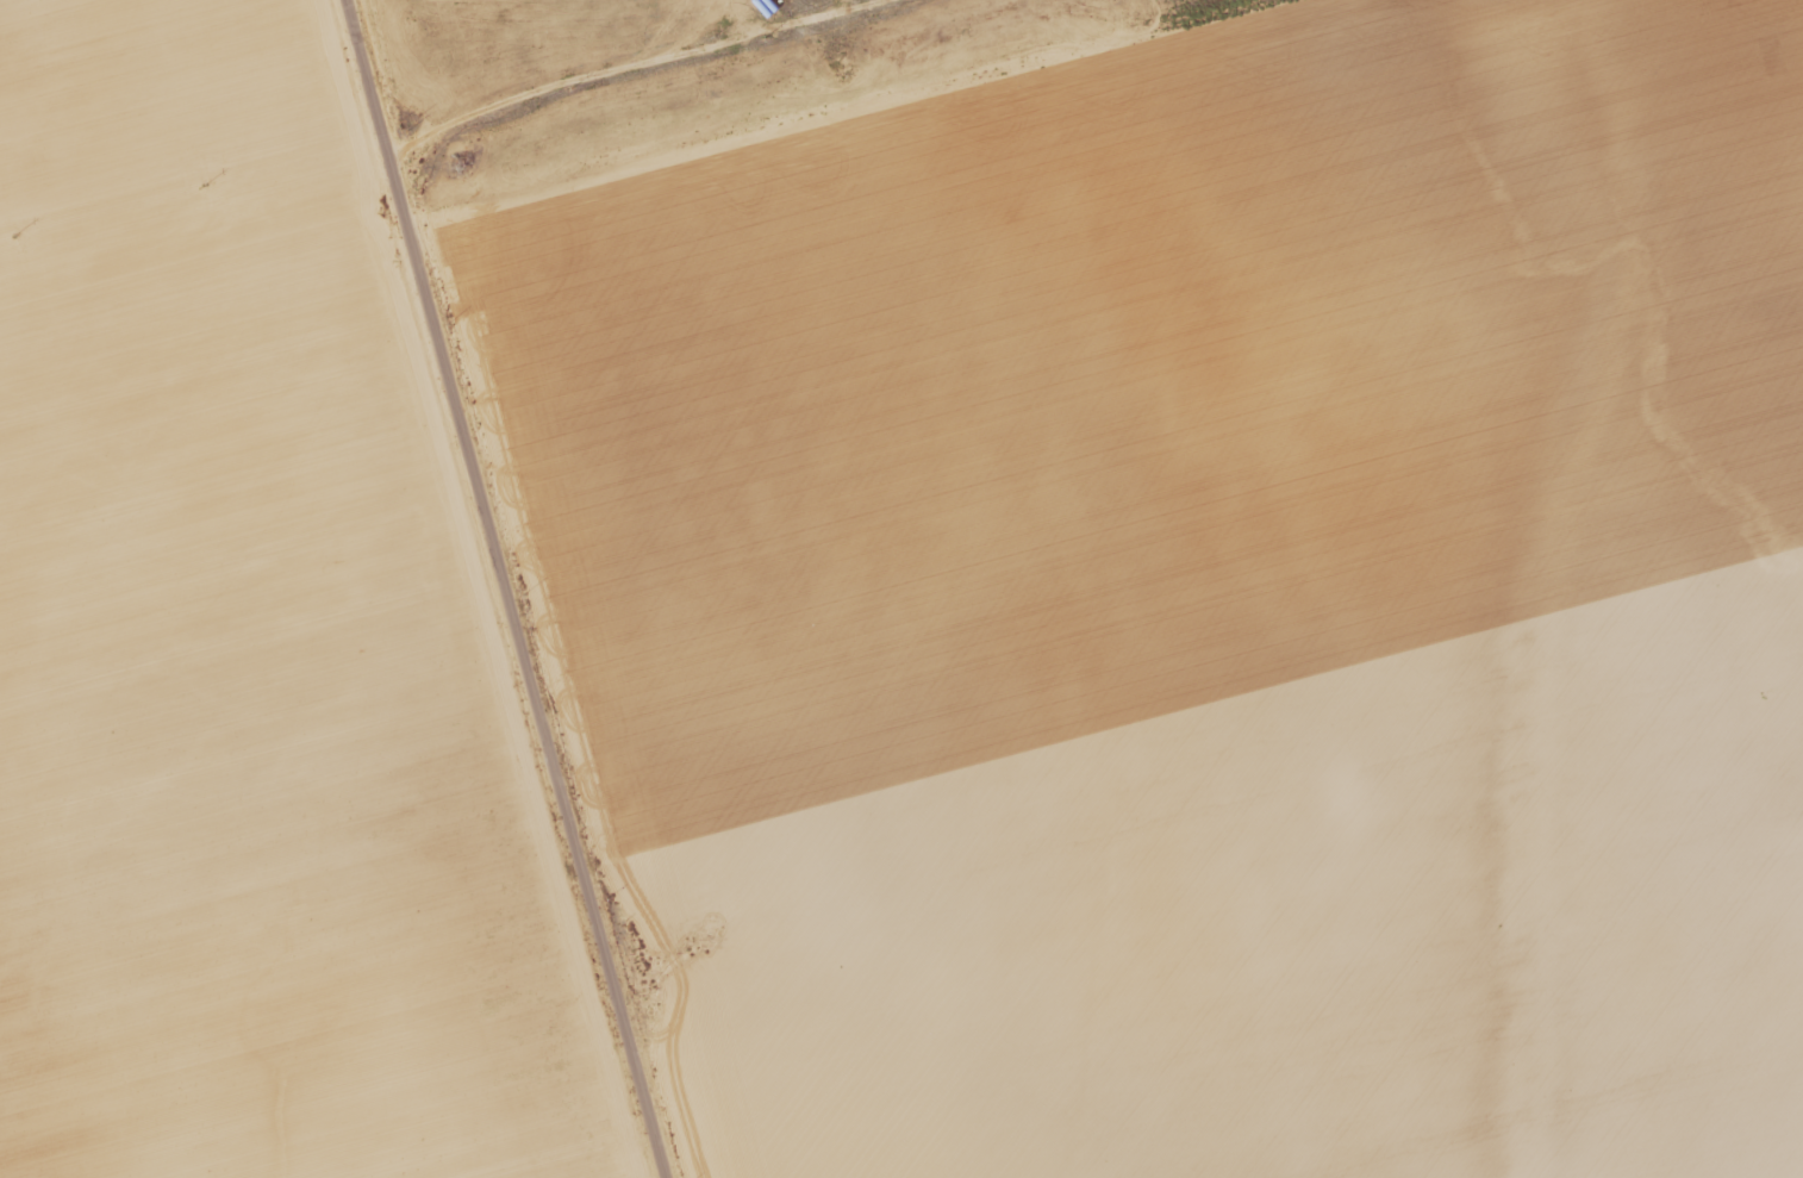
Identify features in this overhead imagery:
road: (675, 82)
road: (495, 582)

